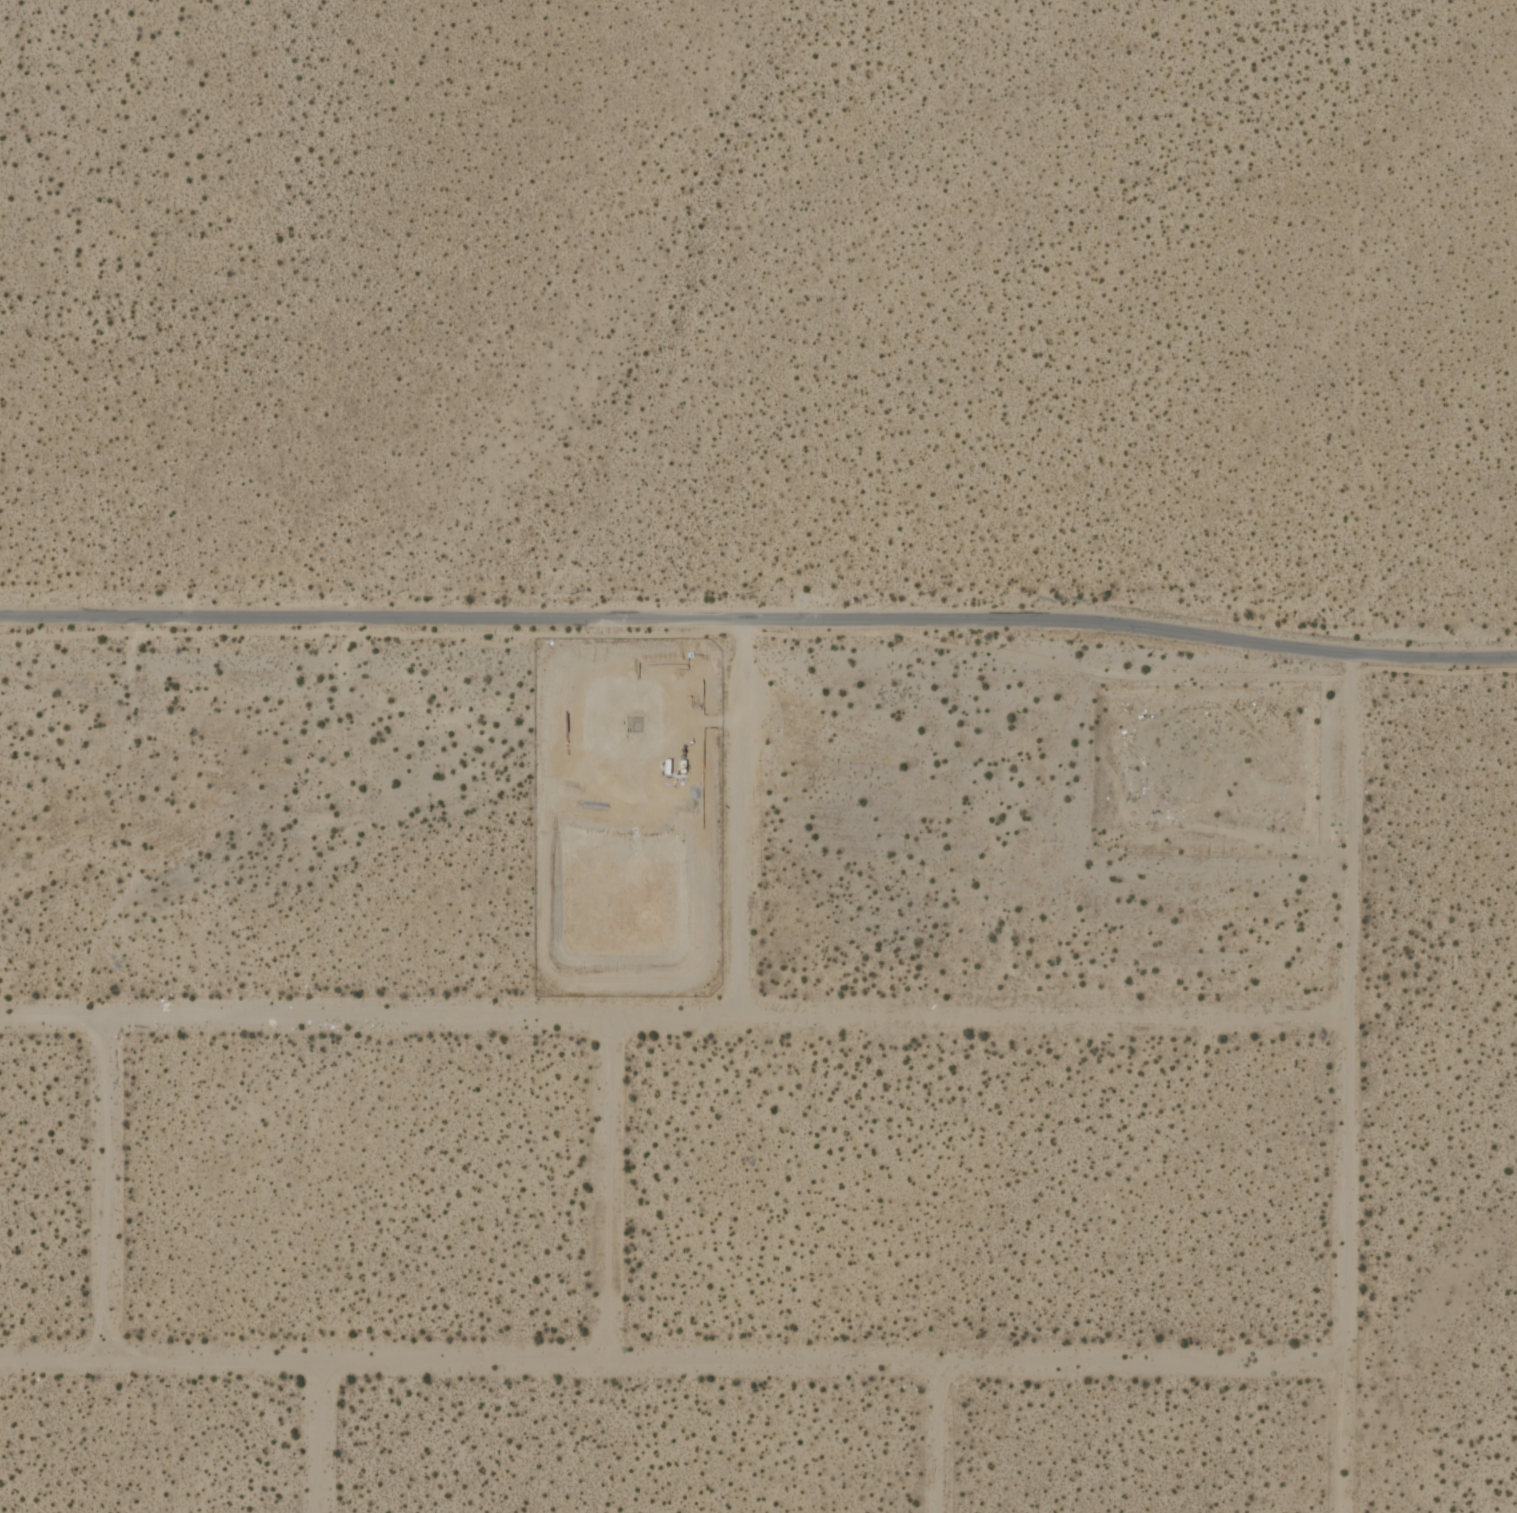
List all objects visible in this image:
road: (759, 617)
road: (740, 817)
road: (671, 1017)
road: (1343, 1084)
road: (103, 1187)
road: (607, 1188)
road: (669, 1360)
road: (323, 1436)
road: (941, 1437)

